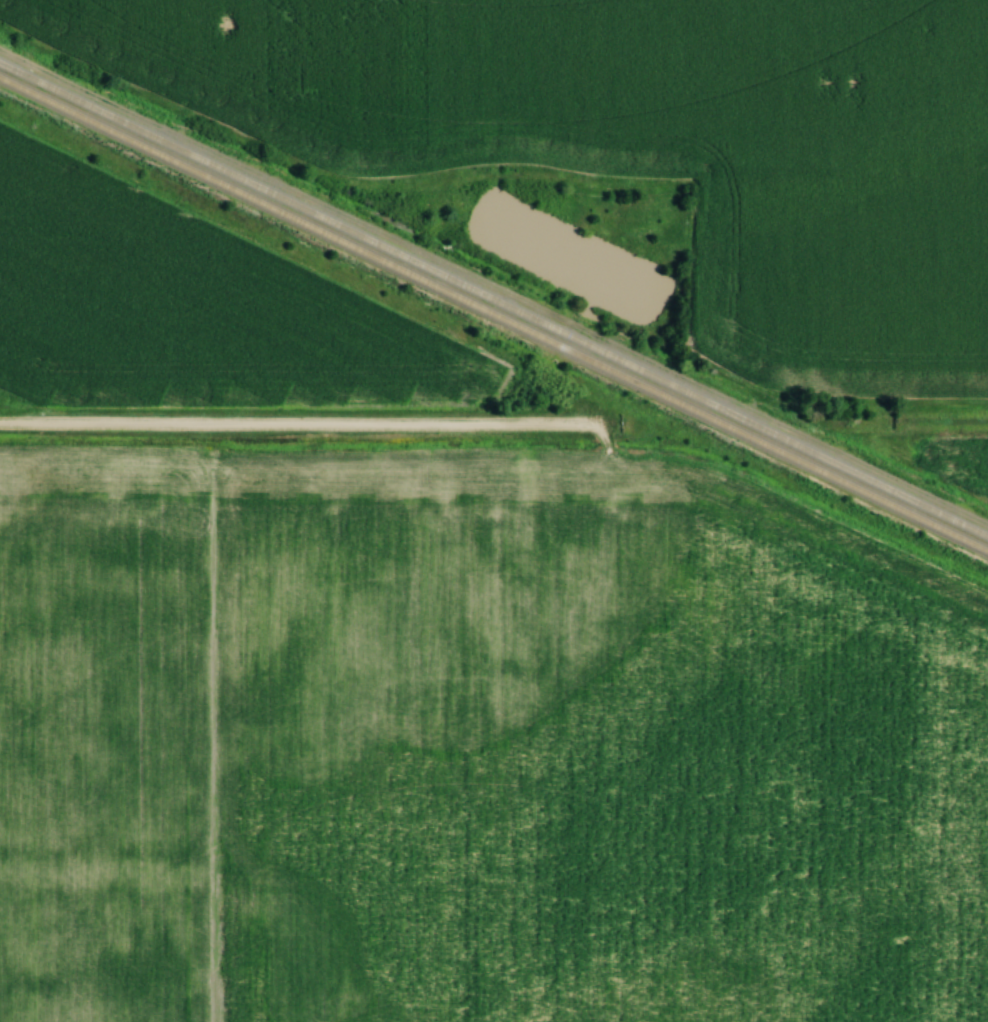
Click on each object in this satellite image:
crop: (184, 296)
railway: (493, 300)
railway: (494, 314)
road: (289, 426)
road: (966, 427)

